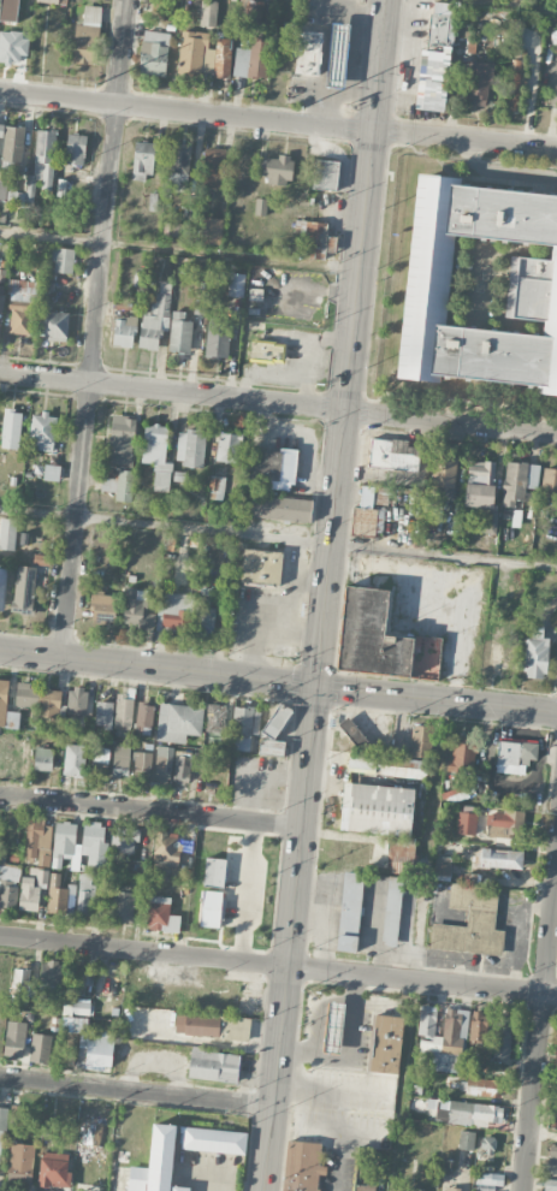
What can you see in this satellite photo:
building: (49, 1)
road: (514, 4)
building: (8, 10)
building: (250, 10)
building: (208, 13)
building: (154, 52)
building: (195, 53)
building: (307, 53)
building: (338, 55)
building: (223, 58)
building: (259, 58)
building: (435, 59)
building: (241, 61)
building: (478, 83)
power tower: (97, 84)
building: (514, 97)
power tower: (301, 107)
road: (278, 119)
building: (1, 130)
building: (13, 143)
building: (76, 148)
building: (45, 158)
building: (143, 161)
building: (213, 165)
building: (178, 166)
building: (13, 167)
building: (279, 170)
building: (325, 174)
building: (60, 188)
building: (153, 201)
road: (368, 203)
building: (176, 229)
road: (52, 235)
building: (312, 237)
building: (63, 260)
building: (236, 284)
building: (532, 288)
building: (23, 290)
building: (1, 301)
building: (155, 316)
building: (20, 319)
building: (53, 325)
road: (96, 330)
building: (124, 331)
building: (179, 332)
building: (218, 339)
building: (266, 350)
road: (173, 391)
road: (452, 420)
building: (12, 428)
building: (41, 435)
building: (123, 439)
building: (190, 446)
building: (227, 446)
building: (158, 452)
building: (393, 454)
building: (273, 467)
building: (53, 472)
building: (444, 475)
building: (549, 480)
building: (517, 481)
building: (119, 482)
building: (479, 482)
building: (217, 487)
building: (279, 508)
building: (368, 512)
building: (431, 520)
building: (488, 522)
building: (7, 533)
road: (278, 539)
building: (261, 567)
building: (2, 588)
building: (24, 588)
building: (102, 608)
building: (136, 609)
building: (173, 611)
building: (207, 620)
building: (380, 639)
building: (496, 648)
building: (537, 653)
road: (278, 682)
traffic signals: (319, 687)
building: (2, 693)
building: (38, 697)
building: (78, 703)
building: (117, 711)
building: (144, 715)
building: (217, 718)
building: (178, 722)
building: (244, 728)
building: (273, 731)
building: (351, 731)
building: (420, 740)
building: (516, 752)
building: (461, 753)
building: (101, 757)
building: (43, 760)
building: (76, 760)
building: (120, 760)
building: (374, 764)
building: (164, 765)
building: (144, 766)
building: (182, 768)
road: (308, 800)
road: (153, 808)
building: (466, 819)
building: (384, 820)
building: (503, 823)
building: (37, 840)
building: (64, 842)
building: (125, 842)
building: (93, 843)
building: (166, 851)
building: (497, 857)
building: (442, 867)
building: (214, 872)
building: (8, 883)
building: (32, 889)
building: (409, 889)
road: (248, 890)
building: (59, 896)
building: (85, 896)
building: (123, 903)
building: (211, 908)
building: (350, 911)
building: (392, 911)
building: (162, 916)
building: (470, 923)
road: (278, 965)
building: (51, 971)
building: (79, 976)
building: (22, 984)
building: (77, 1006)
building: (212, 1026)
building: (333, 1027)
road: (540, 1030)
building: (449, 1035)
building: (14, 1039)
building: (87, 1039)
building: (502, 1039)
building: (386, 1043)
building: (40, 1048)
road: (349, 1049)
building: (214, 1066)
building: (480, 1088)
road: (138, 1090)
road: (328, 1092)
building: (464, 1112)
building: (90, 1133)
road: (544, 1133)
building: (1, 1136)
building: (213, 1139)
building: (466, 1139)
building: (487, 1144)
building: (552, 1155)
building: (20, 1162)
building: (156, 1162)
road: (337, 1162)
building: (301, 1166)
building: (54, 1167)
building: (89, 1171)
building: (488, 1178)
building: (550, 1185)
building: (363, 1187)
building: (413, 1189)
building: (449, 1189)

